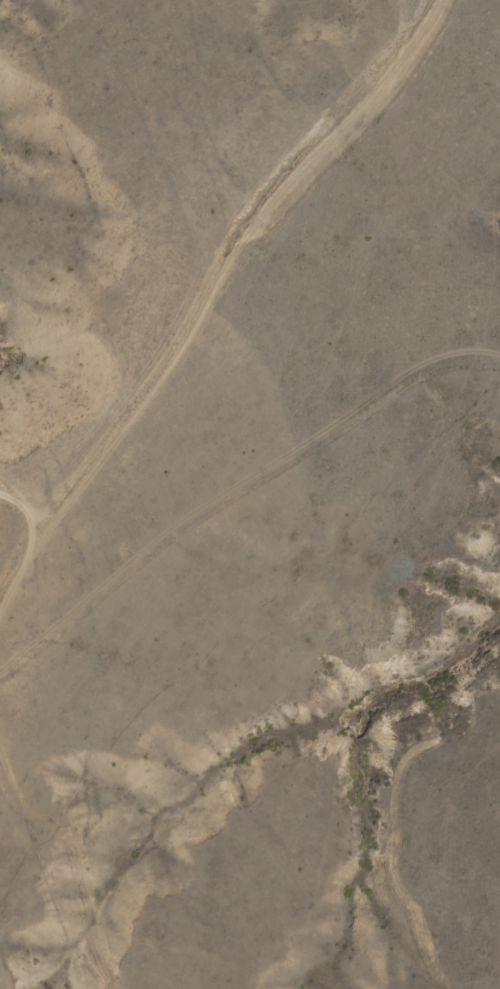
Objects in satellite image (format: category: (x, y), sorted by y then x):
road: (206, 313)
road: (15, 976)

